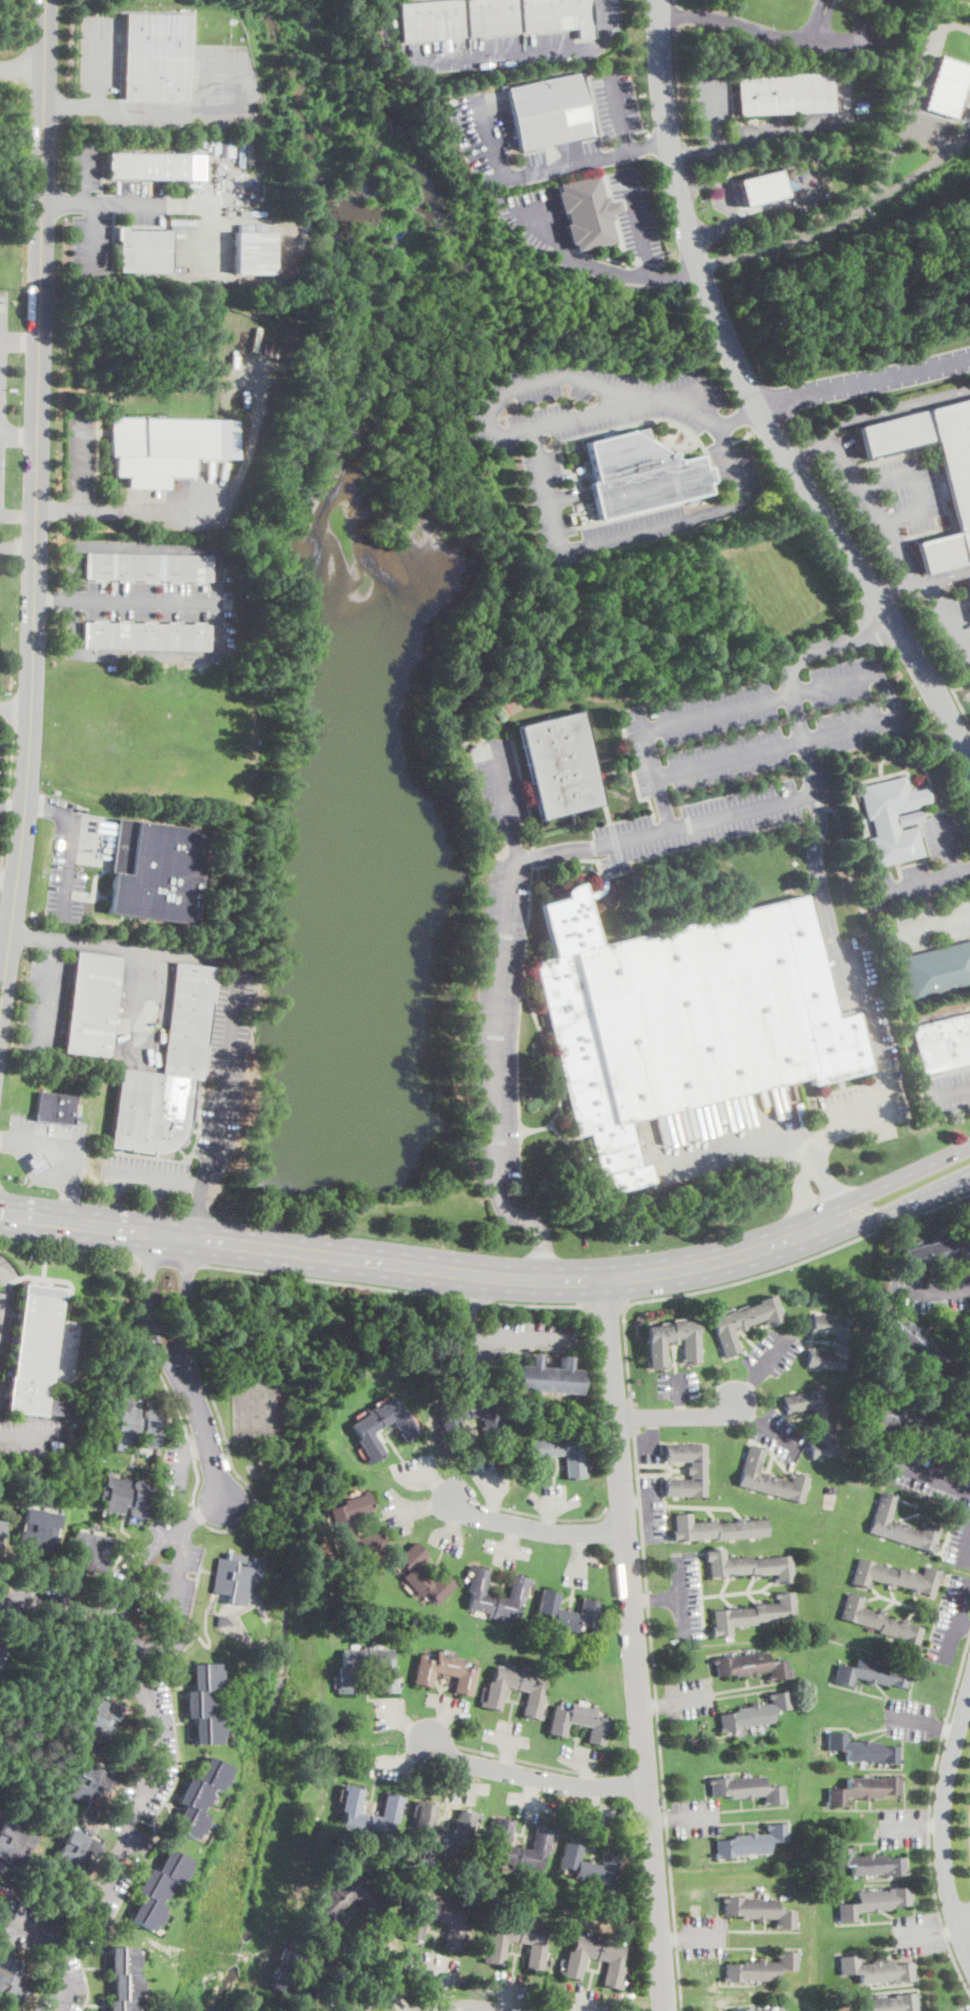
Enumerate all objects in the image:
building: (836, 0)
road: (675, 15)
parking lot: (608, 17)
building: (491, 18)
road: (779, 36)
parking lot: (100, 52)
road: (486, 56)
building: (153, 57)
road: (104, 64)
road: (22, 68)
parking lot: (220, 77)
road: (678, 85)
building: (948, 85)
building: (785, 94)
parking lot: (615, 99)
road: (73, 107)
road: (235, 109)
road: (617, 109)
building: (548, 111)
parking lot: (720, 118)
road: (929, 134)
parking lot: (483, 135)
road: (753, 141)
building: (189, 145)
building: (225, 146)
road: (696, 152)
road: (888, 160)
parking lot: (87, 163)
building: (147, 166)
road: (539, 169)
road: (916, 172)
building: (790, 175)
road: (721, 183)
building: (761, 188)
parking lot: (141, 202)
road: (62, 205)
road: (148, 206)
building: (585, 211)
parking lot: (635, 215)
parking lot: (537, 217)
road: (613, 217)
road: (756, 217)
road: (638, 223)
parking lot: (92, 235)
road: (790, 239)
road: (93, 240)
building: (143, 250)
parking lot: (199, 250)
building: (252, 253)
road: (604, 257)
road: (667, 260)
road: (647, 261)
road: (605, 266)
road: (19, 343)
road: (864, 381)
road: (519, 384)
parking lot: (2, 385)
road: (756, 400)
parking lot: (593, 404)
road: (872, 411)
road: (738, 415)
road: (742, 435)
road: (18, 438)
building: (166, 447)
parking lot: (81, 454)
road: (81, 462)
building: (640, 474)
road: (918, 482)
building: (959, 496)
parking lot: (887, 498)
parking lot: (741, 502)
road: (873, 505)
road: (35, 511)
road: (157, 512)
road: (17, 513)
road: (58, 513)
road: (626, 533)
road: (17, 549)
building: (146, 567)
building: (969, 580)
road: (921, 582)
building: (969, 584)
road: (54, 600)
road: (146, 602)
road: (947, 618)
parking lot: (951, 630)
building: (146, 636)
road: (824, 640)
road: (216, 657)
road: (936, 661)
road: (960, 686)
road: (15, 710)
parking lot: (0, 742)
road: (966, 742)
parking lot: (752, 745)
road: (749, 750)
building: (559, 766)
parking lot: (498, 781)
road: (8, 806)
road: (12, 807)
road: (757, 808)
road: (50, 809)
building: (891, 819)
parking lot: (626, 839)
road: (533, 854)
parking lot: (952, 860)
parking lot: (66, 865)
road: (70, 866)
road: (962, 868)
building: (155, 871)
road: (940, 874)
road: (8, 881)
road: (931, 922)
parking lot: (928, 925)
road: (32, 934)
road: (3, 964)
building: (935, 972)
road: (236, 982)
road: (46, 993)
parking lot: (45, 1003)
building: (91, 1005)
building: (685, 1017)
road: (494, 1019)
parking lot: (498, 1019)
road: (874, 1033)
building: (943, 1043)
parking lot: (885, 1061)
parking lot: (225, 1065)
building: (167, 1071)
road: (947, 1090)
parking lot: (946, 1091)
building: (55, 1106)
parking lot: (47, 1131)
road: (61, 1155)
building: (37, 1164)
parking lot: (144, 1175)
road: (154, 1176)
road: (898, 1178)
road: (903, 1206)
road: (198, 1211)
road: (532, 1220)
road: (68, 1248)
building: (935, 1251)
road: (168, 1261)
road: (421, 1266)
road: (750, 1277)
road: (322, 1281)
parking lot: (931, 1290)
road: (940, 1293)
road: (453, 1295)
road: (483, 1297)
road: (1, 1298)
parking lot: (4, 1299)
road: (468, 1300)
road: (544, 1305)
road: (606, 1305)
road: (184, 1307)
road: (147, 1310)
building: (743, 1323)
road: (466, 1329)
building: (968, 1331)
parking lot: (512, 1335)
road: (518, 1337)
building: (672, 1342)
building: (831, 1342)
building: (914, 1343)
building: (33, 1349)
parking lot: (772, 1352)
road: (773, 1356)
building: (542, 1375)
parking lot: (677, 1383)
road: (680, 1388)
road: (747, 1389)
building: (56, 1405)
road: (680, 1408)
road: (749, 1413)
road: (678, 1416)
building: (897, 1416)
road: (635, 1417)
building: (814, 1420)
building: (138, 1426)
building: (492, 1426)
road: (650, 1430)
building: (365, 1431)
building: (955, 1431)
road: (32, 1434)
parking lot: (778, 1434)
parking lot: (31, 1435)
building: (74, 1436)
road: (206, 1438)
road: (779, 1439)
road: (648, 1444)
building: (70, 1445)
parking lot: (648, 1445)
road: (196, 1448)
building: (573, 1465)
building: (34, 1467)
building: (687, 1469)
road: (181, 1473)
road: (930, 1476)
parking lot: (928, 1477)
building: (769, 1478)
road: (195, 1489)
building: (127, 1497)
road: (636, 1503)
road: (424, 1506)
road: (624, 1508)
parking lot: (652, 1508)
road: (200, 1513)
road: (649, 1514)
road: (548, 1516)
building: (343, 1522)
building: (0, 1525)
building: (900, 1526)
building: (716, 1528)
building: (38, 1529)
road: (536, 1529)
parking lot: (959, 1544)
building: (87, 1553)
road: (966, 1553)
road: (967, 1560)
road: (139, 1564)
building: (749, 1565)
building: (422, 1575)
building: (235, 1577)
building: (895, 1577)
building: (517, 1592)
parking lot: (685, 1594)
road: (681, 1595)
road: (656, 1598)
road: (173, 1599)
building: (567, 1612)
building: (753, 1613)
parking lot: (950, 1618)
building: (223, 1621)
road: (957, 1621)
road: (964, 1622)
building: (882, 1623)
building: (1, 1642)
road: (634, 1644)
building: (752, 1665)
building: (446, 1672)
building: (872, 1674)
building: (387, 1678)
building: (495, 1693)
parking lot: (689, 1697)
road: (690, 1698)
building: (203, 1703)
road: (654, 1705)
building: (755, 1712)
building: (97, 1717)
parking lot: (908, 1717)
road: (659, 1718)
road: (917, 1720)
building: (579, 1722)
road: (404, 1723)
road: (951, 1729)
building: (862, 1750)
road: (155, 1759)
road: (541, 1765)
road: (645, 1768)
road: (531, 1776)
building: (89, 1786)
building: (746, 1789)
building: (863, 1789)
building: (199, 1797)
building: (390, 1811)
road: (927, 1811)
parking lot: (696, 1816)
road: (696, 1818)
road: (661, 1819)
road: (944, 1825)
parking lot: (902, 1826)
road: (904, 1828)
road: (935, 1828)
building: (443, 1829)
building: (751, 1841)
building: (13, 1844)
building: (541, 1844)
building: (77, 1852)
building: (868, 1863)
building: (589, 1865)
building: (157, 1888)
building: (874, 1902)
building: (331, 1904)
building: (758, 1910)
building: (415, 1924)
parking lot: (917, 1933)
road: (936, 1933)
parking lot: (704, 1935)
road: (704, 1937)
road: (671, 1938)
building: (517, 1943)
building: (595, 1960)
road: (393, 1963)
building: (760, 1968)
building: (876, 1970)
road: (61, 1971)
building: (298, 1971)
building: (12, 1977)
building: (123, 1979)
parking lot: (69, 1987)
building: (892, 2003)
road: (462, 2007)
parking lot: (963, 2007)
building: (755, 2009)

